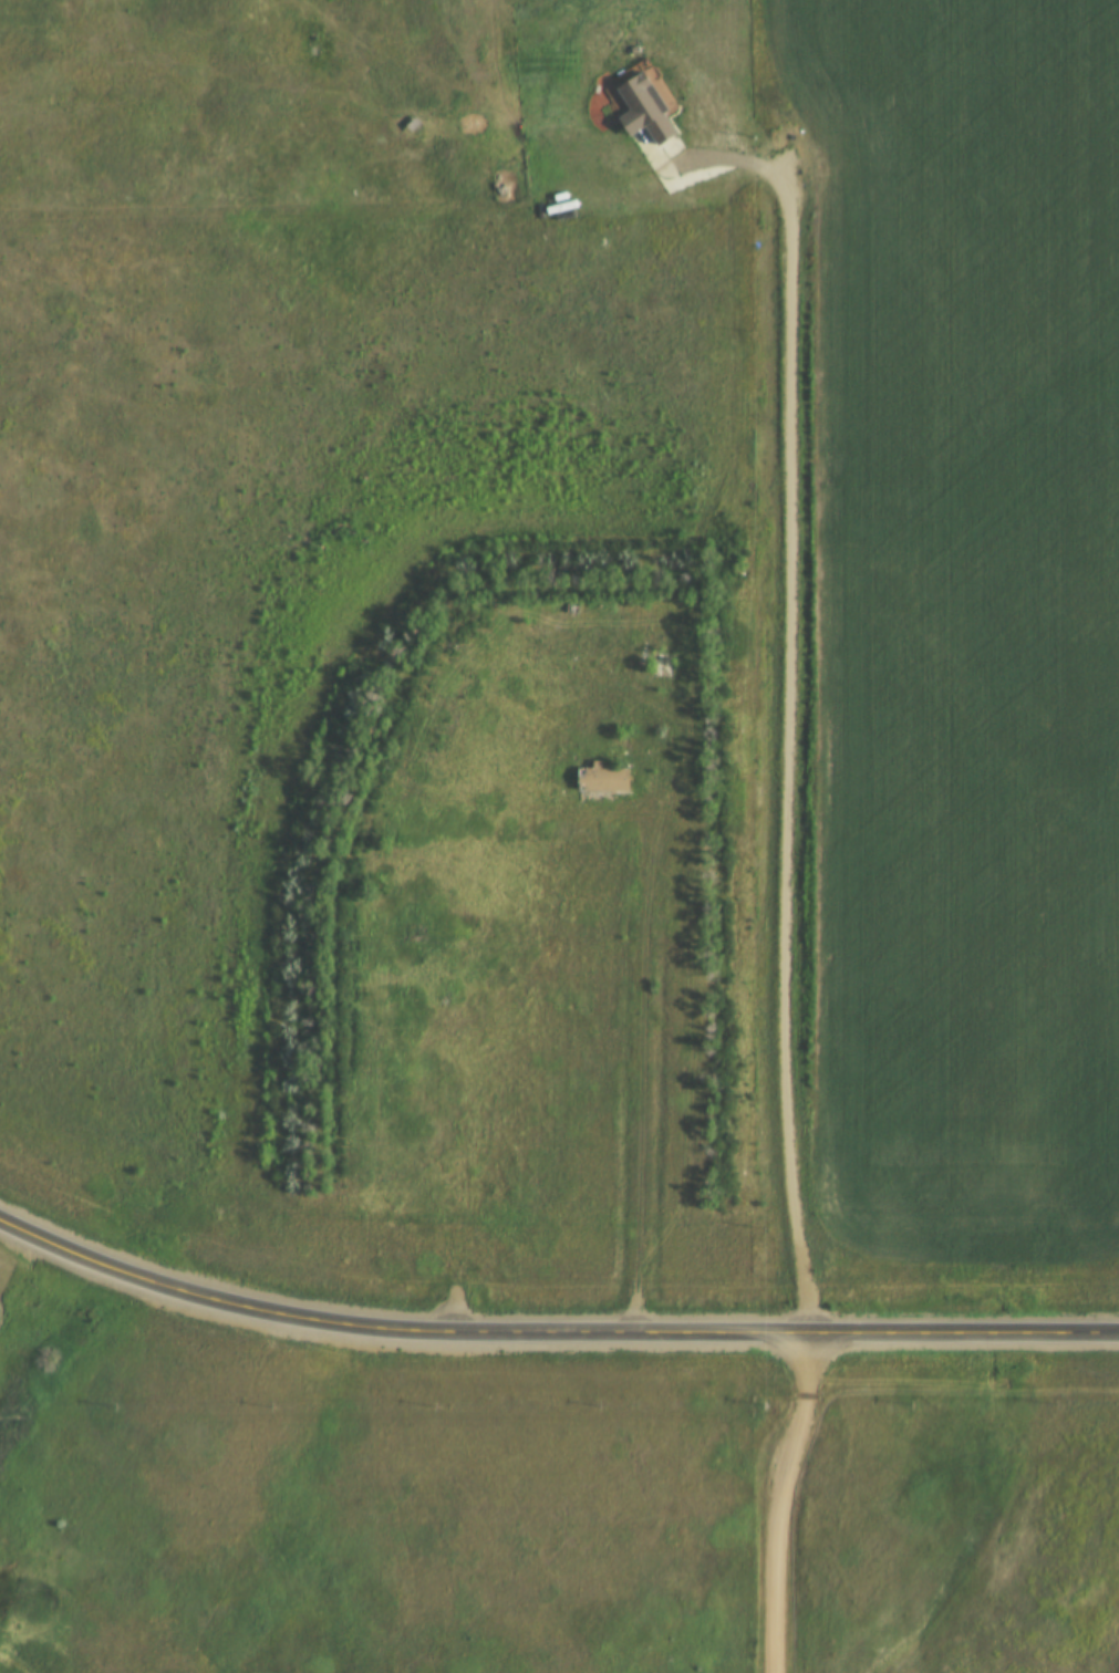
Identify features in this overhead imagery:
building: (640, 108)
building: (599, 778)
road: (646, 1053)
road: (550, 1334)
road: (776, 1501)

